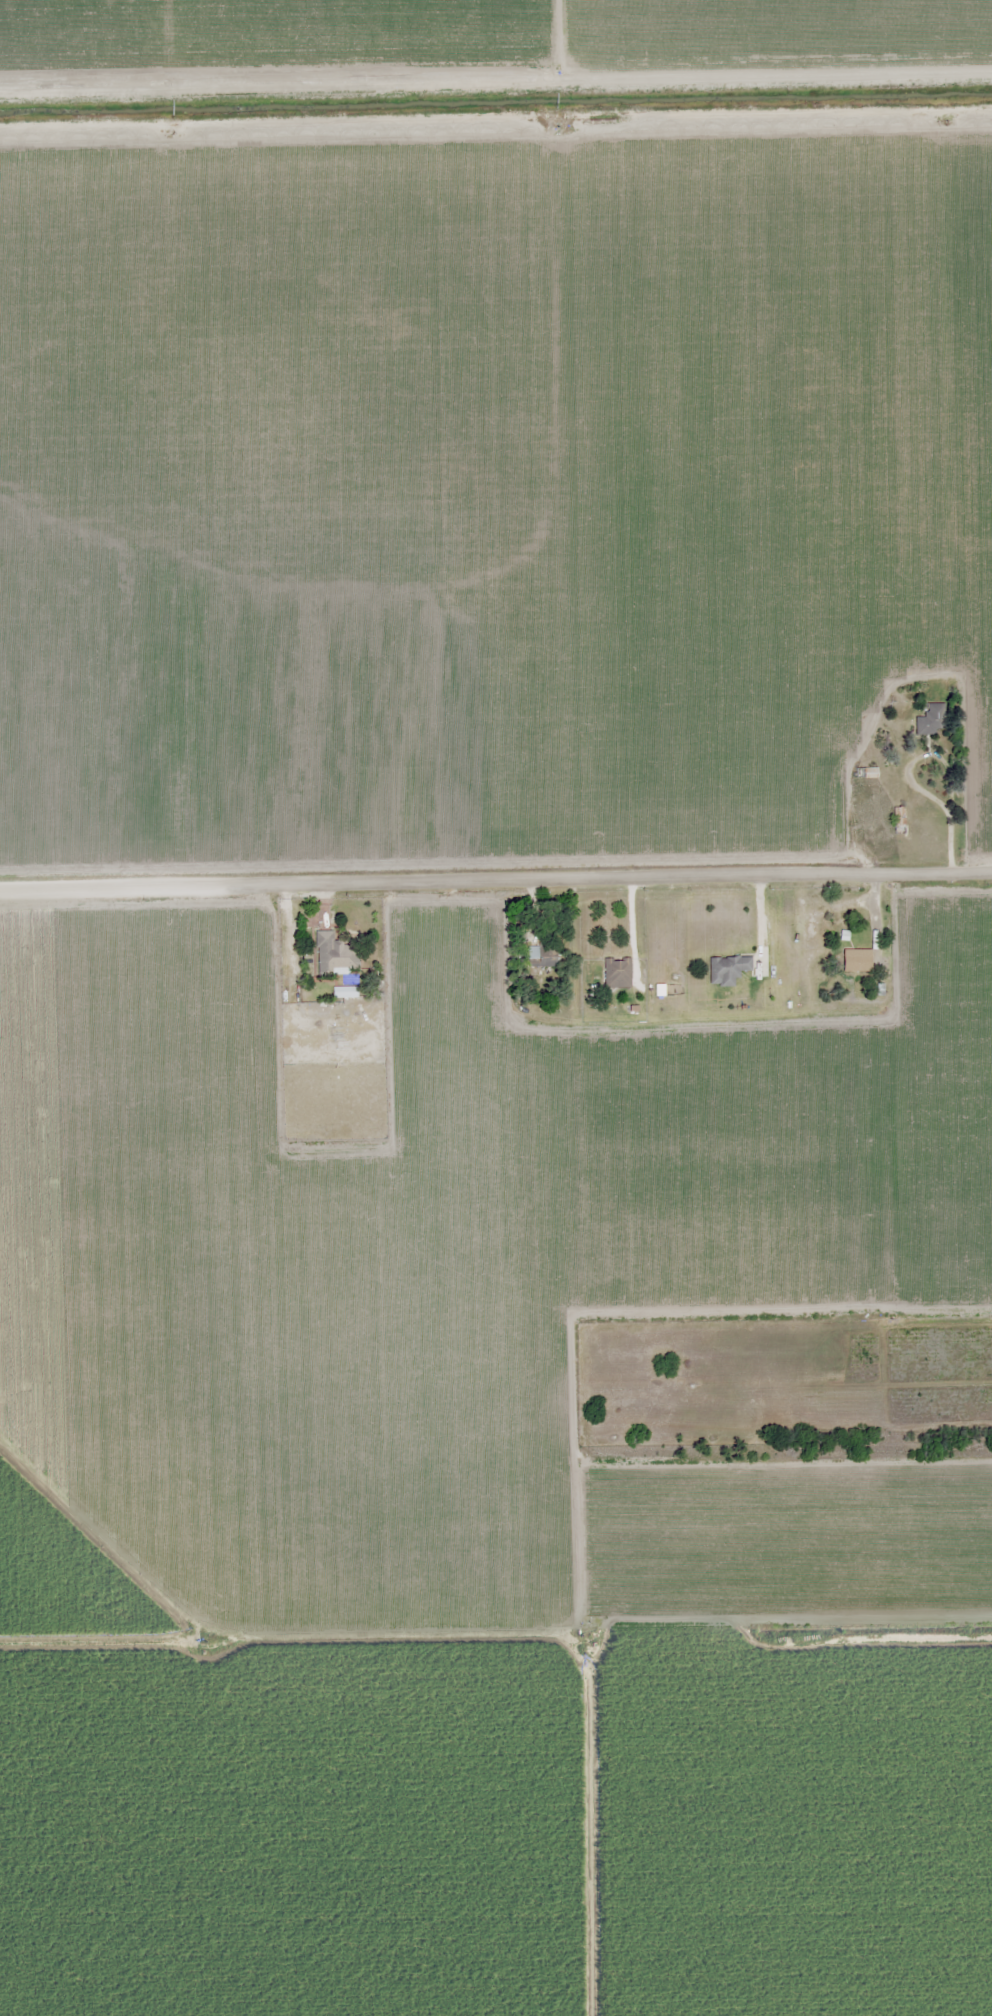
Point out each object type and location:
building: (932, 720)
building: (870, 773)
building: (899, 819)
road: (496, 882)
building: (542, 954)
building: (335, 955)
building: (858, 961)
building: (728, 970)
building: (617, 973)

